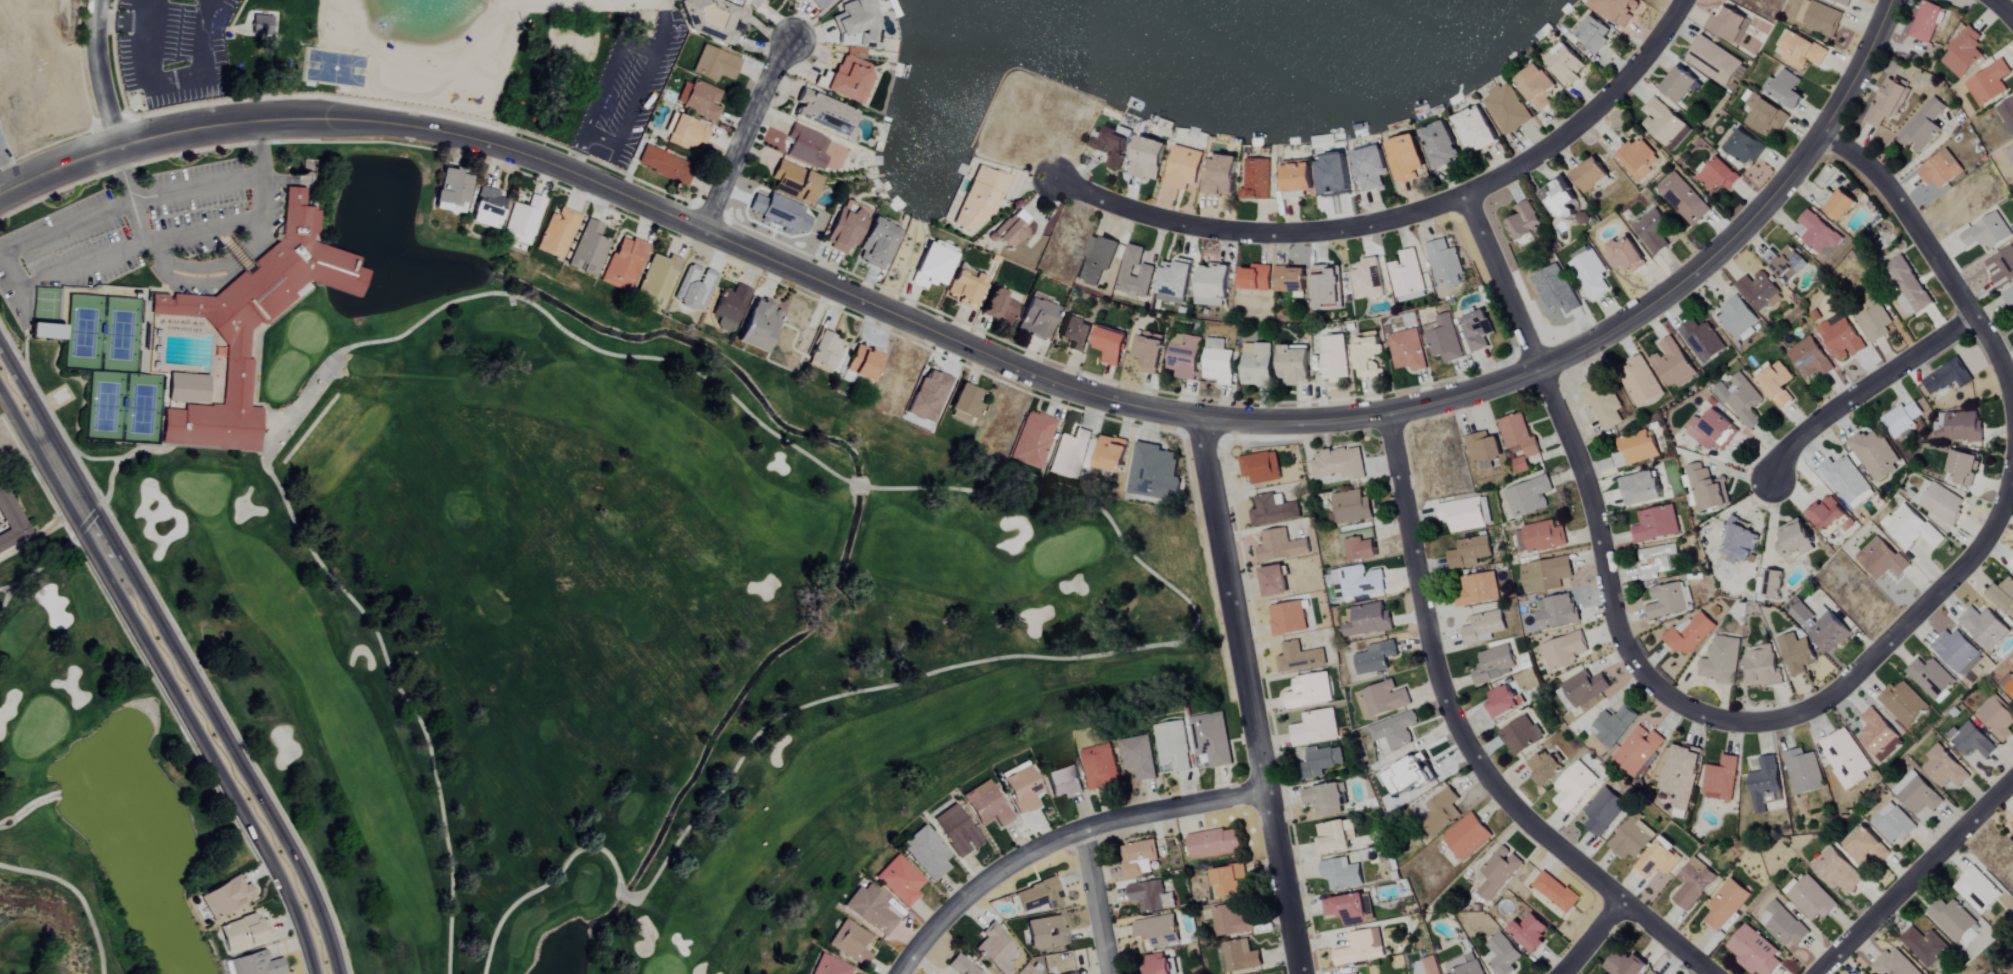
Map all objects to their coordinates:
building: (1843, 2)
building: (817, 3)
road: (663, 4)
road: (2001, 8)
building: (1613, 9)
road: (150, 11)
road: (262, 12)
road: (339, 17)
building: (1819, 17)
building: (261, 19)
building: (712, 19)
building: (1925, 22)
building: (1727, 25)
building: (1593, 34)
parking lot: (174, 49)
road: (637, 49)
building: (1803, 52)
park: (437, 54)
building: (1962, 54)
building: (1713, 61)
road: (387, 64)
building: (714, 64)
building: (1565, 64)
road: (1857, 66)
park: (335, 68)
road: (101, 75)
building: (847, 78)
road: (155, 84)
building: (1988, 84)
building: (1679, 85)
building: (1536, 86)
road: (598, 90)
building: (1787, 90)
parking lot: (627, 92)
building: (698, 100)
building: (1887, 102)
building: (1507, 108)
building: (2006, 113)
building: (823, 114)
building: (1764, 114)
road: (627, 119)
building: (1663, 125)
building: (1922, 127)
building: (1475, 129)
building: (686, 133)
road: (746, 133)
building: (1441, 145)
building: (806, 147)
building: (1112, 147)
building: (1745, 147)
parking lot: (4, 150)
building: (2010, 151)
road: (573, 153)
building: (1406, 157)
building: (1148, 159)
building: (1636, 159)
building: (664, 165)
building: (1183, 168)
building: (1370, 168)
building: (1940, 170)
road: (5, 171)
building: (1222, 175)
building: (1334, 175)
building: (1589, 175)
building: (1718, 176)
building: (1256, 179)
building: (1296, 179)
building: (794, 182)
road: (258, 189)
building: (451, 189)
building: (978, 198)
building: (1560, 199)
building: (1683, 199)
building: (1840, 206)
building: (486, 208)
building: (779, 213)
parking lot: (187, 218)
road: (1406, 218)
building: (523, 219)
building: (1523, 222)
building: (846, 226)
building: (1653, 231)
building: (556, 233)
building: (1987, 233)
building: (1819, 235)
road: (40, 236)
road: (152, 238)
building: (876, 244)
building: (588, 249)
road: (236, 256)
road: (1934, 259)
building: (1096, 260)
building: (1444, 263)
building: (623, 264)
building: (1787, 264)
building: (931, 267)
building: (2001, 268)
building: (1145, 271)
road: (162, 272)
building: (1590, 274)
building: (1406, 277)
building: (1255, 278)
building: (1366, 279)
building: (656, 280)
building: (1174, 283)
building: (1907, 284)
building: (1213, 286)
building: (964, 287)
building: (694, 288)
building: (1326, 288)
building: (1546, 288)
building: (1759, 292)
building: (2009, 298)
building: (997, 306)
building: (729, 307)
building: (1036, 316)
building: (1738, 320)
building: (1872, 321)
building: (253, 323)
building: (758, 326)
building: (1476, 331)
building: (1074, 335)
road: (942, 336)
building: (1444, 340)
building: (1841, 340)
building: (1701, 341)
building: (1110, 346)
building: (825, 351)
building: (1147, 351)
building: (1406, 351)
building: (1366, 355)
building: (1183, 356)
building: (1334, 358)
building: (1809, 359)
building: (1217, 362)
building: (863, 363)
building: (1295, 364)
building: (1671, 364)
building: (1257, 367)
park: (113, 370)
building: (1946, 377)
building: (1639, 381)
building: (1776, 384)
building: (186, 388)
road: (1864, 392)
building: (928, 396)
building: (1743, 401)
building: (1602, 403)
building: (965, 405)
building: (1901, 420)
building: (1957, 427)
building: (1710, 431)
building: (1518, 435)
building: (1032, 439)
building: (1482, 450)
building: (1633, 450)
building: (1068, 454)
building: (1110, 454)
building: (1875, 455)
road: (22, 456)
building: (1520, 465)
building: (1337, 466)
building: (1260, 468)
building: (1959, 468)
building: (1152, 473)
building: (1846, 482)
building: (1641, 489)
building: (1705, 490)
road: (1589, 492)
building: (1528, 497)
building: (1939, 502)
building: (1351, 507)
building: (1273, 511)
building: (1464, 515)
building: (1826, 515)
building: (10, 522)
building: (1655, 525)
building: (1910, 528)
road: (40, 534)
building: (1539, 537)
building: (1794, 541)
building: (1739, 543)
building: (1280, 547)
building: (1362, 550)
building: (1469, 553)
building: (1881, 559)
building: (1656, 561)
building: (2011, 565)
building: (1545, 575)
building: (1273, 582)
building: (1358, 582)
building: (1772, 584)
building: (1477, 590)
park: (502, 597)
building: (2004, 597)
building: (1669, 601)
building: (1556, 612)
building: (1801, 615)
building: (1286, 619)
road: (1908, 619)
building: (1368, 620)
building: (1483, 628)
building: (1984, 628)
building: (1828, 631)
building: (1689, 635)
building: (1563, 652)
building: (1957, 652)
building: (1795, 654)
building: (1298, 658)
building: (1374, 658)
building: (1720, 661)
building: (1494, 664)
building: (1761, 666)
road: (172, 668)
building: (1931, 679)
building: (2009, 687)
building: (1584, 688)
building: (1309, 691)
road: (1246, 697)
building: (1380, 699)
building: (1501, 702)
building: (1903, 704)
building: (1996, 720)
building: (1613, 725)
building: (1315, 728)
building: (1393, 730)
building: (1520, 735)
building: (1879, 735)
building: (1210, 738)
building: (1970, 740)
road: (1462, 741)
building: (1172, 745)
building: (1637, 750)
building: (1845, 758)
building: (1137, 759)
building: (1320, 762)
building: (1098, 766)
building: (1543, 766)
building: (1943, 767)
building: (1802, 771)
building: (1408, 774)
building: (1678, 775)
building: (1720, 779)
building: (1063, 781)
building: (1765, 784)
building: (1573, 786)
building: (1022, 789)
building: (1917, 794)
building: (1325, 798)
building: (986, 804)
building: (1441, 809)
building: (1602, 810)
building: (1893, 823)
building: (2012, 828)
building: (956, 830)
building: (1467, 836)
building: (1332, 837)
building: (1631, 837)
road: (1057, 840)
building: (1213, 843)
building: (1866, 847)
building: (926, 853)
building: (1137, 858)
building: (1657, 859)
building: (1836, 871)
building: (1497, 872)
building: (1341, 873)
road: (1915, 875)
building: (899, 880)
building: (1226, 880)
building: (1693, 883)
building: (1977, 890)
building: (1555, 891)
building: (1038, 896)
building: (1150, 896)
building: (225, 897)
building: (1809, 898)
road: (1097, 901)
building: (1725, 904)
building: (870, 909)
building: (1346, 909)
building: (1951, 919)
building: (1230, 921)
building: (1781, 924)
building: (1155, 928)
building: (241, 932)
building: (1047, 933)
building: (1529, 933)
road: (1591, 937)
building: (850, 942)
building: (1925, 946)
building: (1360, 947)
building: (995, 949)
building: (1752, 951)
building: (1501, 955)
building: (1240, 957)
building: (254, 964)
building: (1624, 964)
building: (1894, 964)
building: (1158, 965)
building: (1464, 965)
building: (961, 966)
building: (1426, 966)
building: (1078, 973)
building: (1356, 973)
building: (1654, 973)
building: (1864, 973)
building: (1994, 973)

